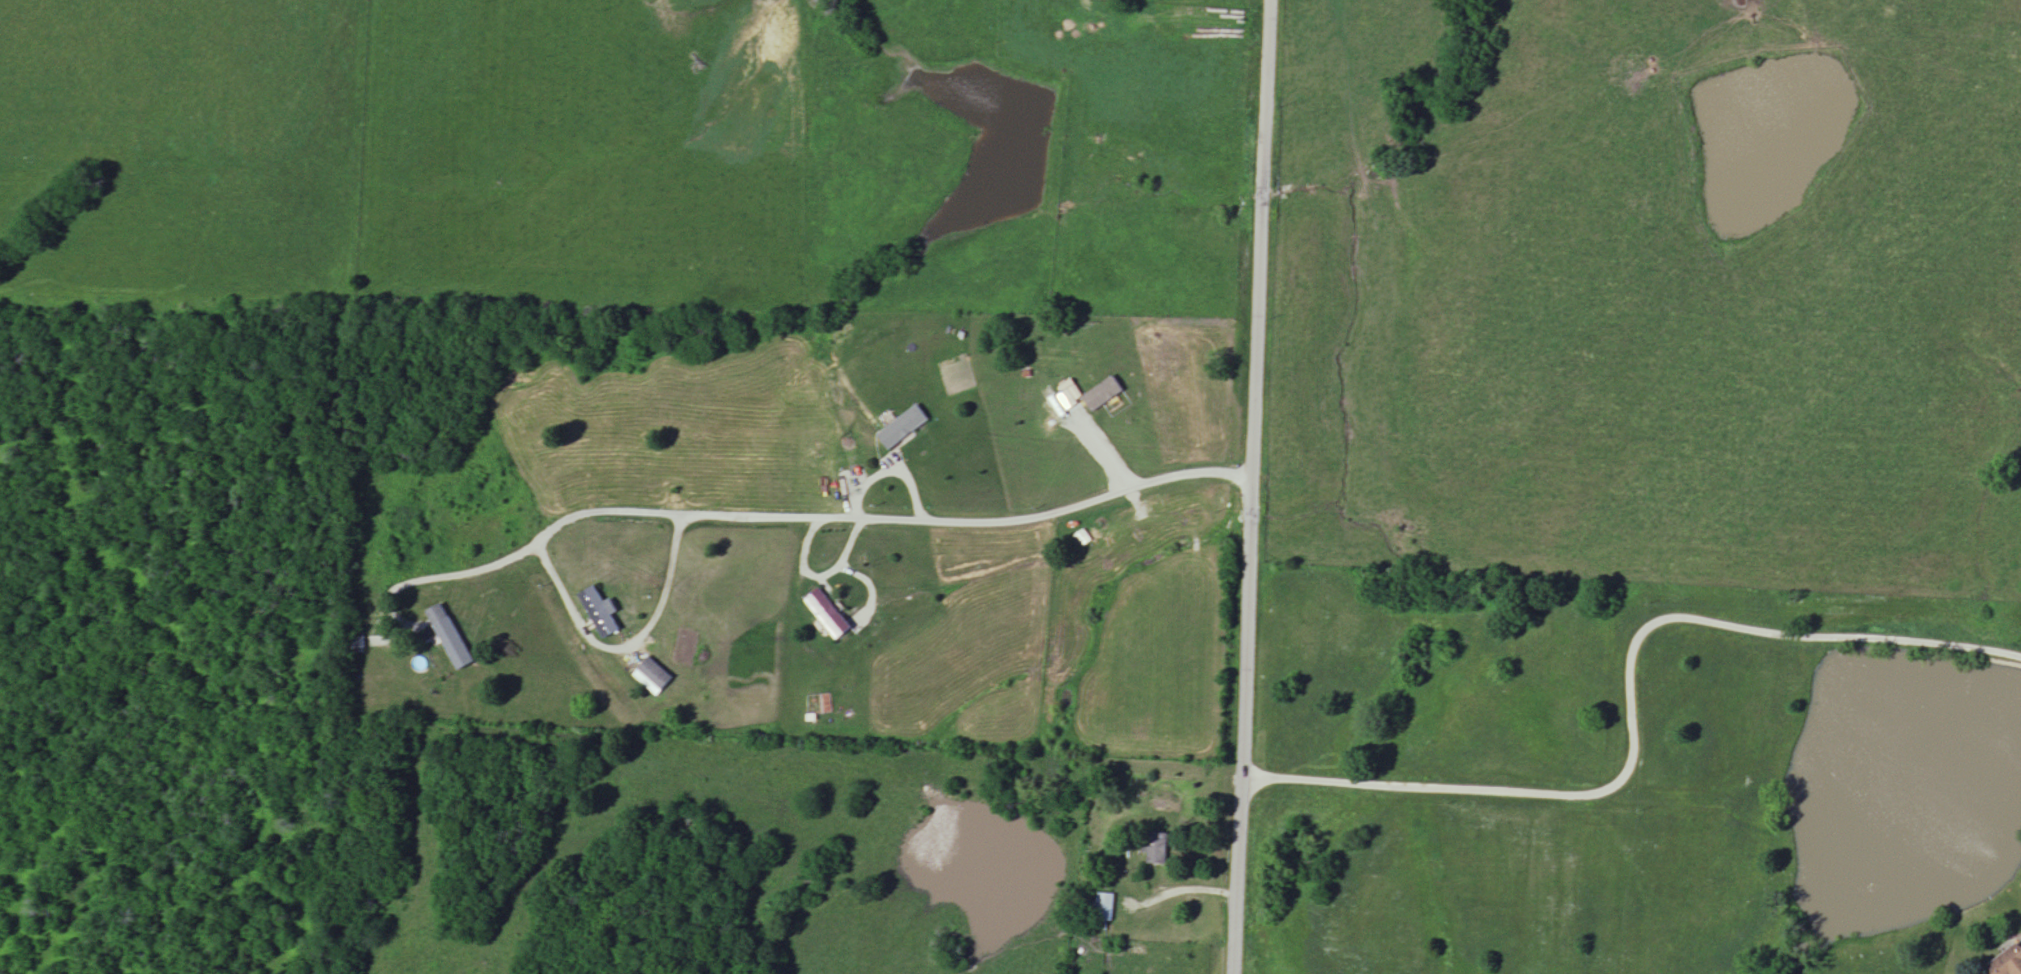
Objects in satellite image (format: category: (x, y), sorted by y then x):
building: (1103, 395)
building: (903, 428)
road: (887, 470)
road: (1250, 486)
road: (779, 516)
road: (816, 575)
building: (600, 612)
building: (828, 614)
building: (450, 638)
road: (626, 647)
building: (653, 677)
road: (1630, 705)
building: (1157, 849)
road: (1168, 892)
building: (1104, 913)
building: (2008, 963)

